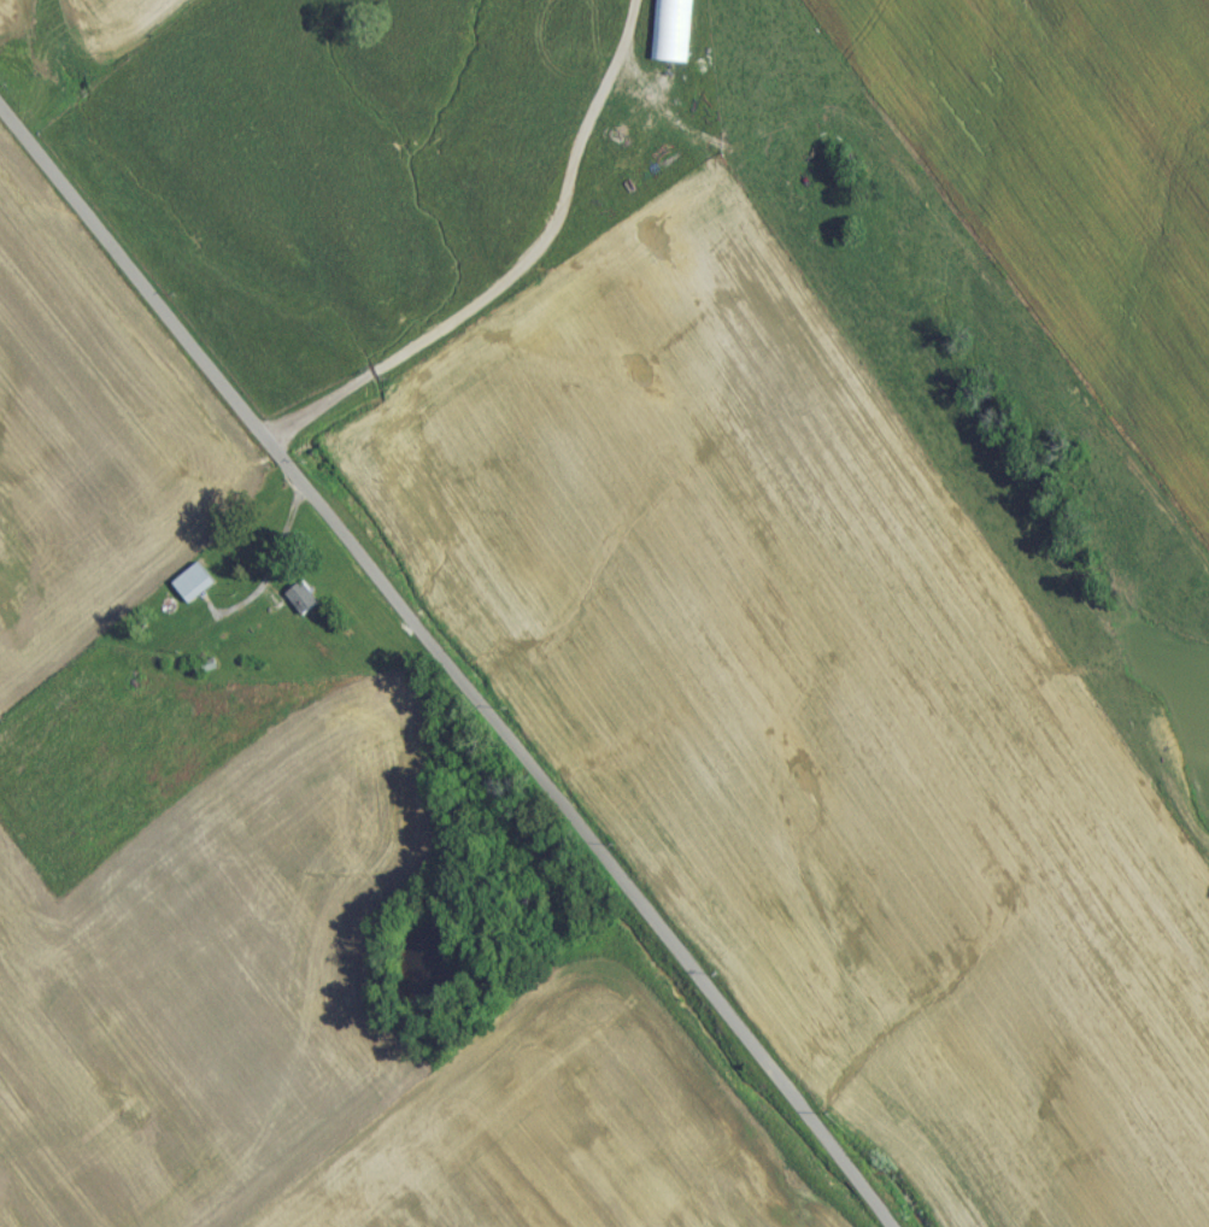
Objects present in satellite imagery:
building: (671, 34)
road: (518, 277)
building: (198, 588)
building: (300, 604)
road: (441, 668)

